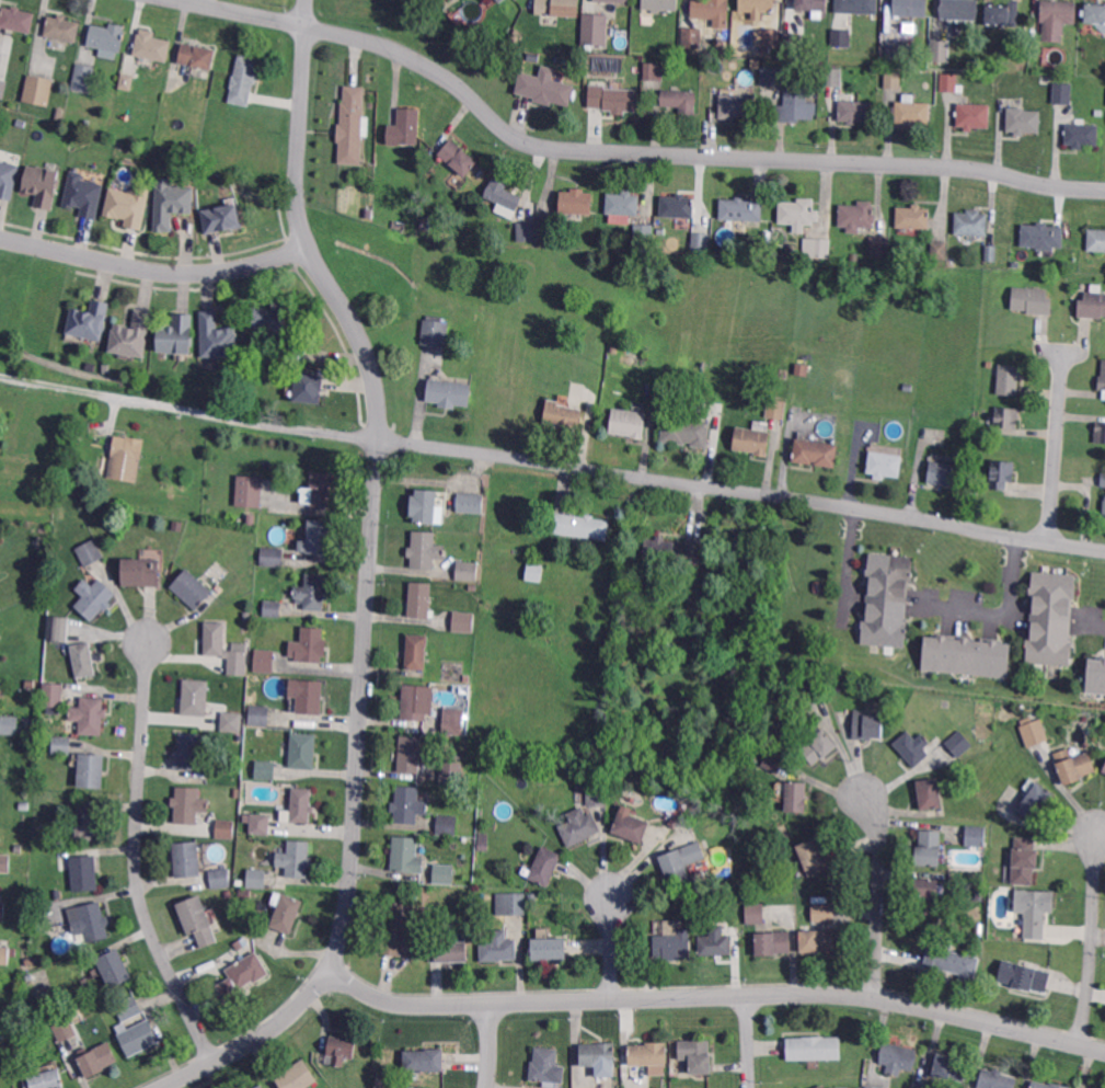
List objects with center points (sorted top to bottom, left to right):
building: (499, 1)
building: (611, 1)
building: (659, 4)
building: (813, 4)
building: (758, 7)
building: (856, 7)
building: (911, 7)
building: (556, 9)
building: (959, 9)
building: (712, 11)
building: (1000, 12)
building: (1095, 12)
building: (18, 18)
building: (1058, 18)
building: (62, 27)
building: (596, 27)
building: (772, 36)
building: (106, 37)
building: (691, 37)
building: (840, 38)
building: (793, 42)
building: (152, 45)
building: (939, 49)
building: (895, 51)
building: (198, 55)
building: (655, 70)
building: (770, 77)
building: (833, 77)
building: (245, 78)
building: (894, 78)
building: (83, 79)
building: (1047, 79)
building: (126, 82)
building: (952, 82)
building: (545, 87)
building: (3, 88)
building: (36, 92)
building: (1063, 92)
building: (613, 98)
building: (681, 100)
building: (737, 105)
building: (795, 105)
building: (855, 111)
building: (1100, 111)
building: (58, 114)
building: (911, 114)
building: (975, 115)
building: (1024, 119)
building: (21, 123)
building: (353, 125)
building: (405, 126)
building: (1083, 134)
building: (184, 145)
building: (192, 146)
road: (628, 151)
building: (459, 157)
building: (8, 180)
building: (42, 185)
building: (84, 195)
building: (504, 196)
building: (577, 201)
building: (624, 202)
building: (172, 205)
building: (129, 206)
building: (677, 207)
building: (743, 209)
building: (369, 211)
building: (799, 211)
building: (857, 215)
building: (914, 216)
building: (222, 220)
building: (972, 221)
building: (402, 225)
building: (549, 229)
building: (527, 231)
building: (1044, 234)
building: (643, 236)
building: (1096, 239)
building: (700, 242)
building: (880, 245)
building: (818, 247)
building: (940, 249)
building: (993, 252)
road: (152, 265)
building: (1032, 300)
building: (1092, 306)
building: (272, 318)
building: (89, 322)
building: (436, 332)
building: (131, 336)
building: (175, 336)
building: (218, 337)
building: (298, 351)
building: (91, 368)
building: (106, 369)
building: (783, 375)
building: (1102, 378)
building: (1009, 379)
building: (307, 386)
building: (449, 392)
building: (775, 410)
building: (563, 414)
building: (1006, 417)
building: (630, 422)
building: (686, 432)
building: (1100, 433)
building: (753, 439)
road: (1055, 442)
building: (817, 451)
building: (126, 459)
road: (552, 462)
building: (885, 463)
building: (945, 470)
building: (1001, 474)
road: (376, 477)
building: (1102, 479)
building: (325, 488)
building: (74, 491)
building: (249, 491)
building: (470, 503)
building: (427, 506)
building: (1104, 509)
building: (251, 520)
building: (582, 525)
building: (318, 537)
building: (41, 542)
building: (426, 548)
building: (672, 549)
building: (90, 553)
building: (273, 556)
road: (848, 559)
building: (468, 569)
building: (536, 571)
building: (141, 573)
building: (193, 587)
building: (818, 587)
building: (472, 588)
building: (313, 591)
building: (94, 596)
building: (419, 600)
building: (886, 600)
building: (0, 607)
building: (273, 607)
road: (1010, 614)
building: (1051, 619)
building: (462, 622)
road: (1102, 622)
building: (652, 626)
building: (58, 629)
building: (309, 645)
building: (222, 649)
building: (417, 651)
building: (967, 657)
building: (84, 658)
building: (265, 658)
building: (1096, 677)
building: (30, 684)
building: (838, 686)
building: (51, 695)
building: (196, 696)
building: (307, 696)
building: (809, 696)
building: (416, 700)
building: (261, 713)
building: (90, 714)
building: (452, 721)
building: (231, 722)
building: (10, 723)
building: (867, 724)
building: (1033, 729)
building: (959, 742)
building: (61, 745)
building: (820, 746)
building: (913, 746)
building: (304, 749)
building: (188, 751)
building: (411, 753)
building: (774, 759)
building: (1077, 766)
building: (1104, 767)
building: (266, 768)
building: (92, 769)
building: (450, 774)
building: (541, 780)
building: (930, 793)
building: (597, 794)
building: (797, 794)
building: (1036, 801)
building: (188, 803)
building: (302, 803)
building: (410, 803)
building: (24, 805)
building: (88, 822)
building: (261, 822)
building: (448, 823)
building: (579, 825)
building: (632, 826)
building: (225, 829)
building: (977, 835)
building: (483, 841)
building: (929, 848)
building: (405, 852)
building: (815, 856)
building: (297, 857)
road: (137, 859)
building: (186, 859)
building: (1025, 859)
building: (5, 861)
building: (681, 861)
building: (546, 864)
building: (84, 872)
building: (444, 874)
building: (220, 877)
building: (257, 877)
building: (58, 893)
road: (879, 894)
building: (928, 894)
building: (532, 897)
building: (679, 897)
building: (510, 904)
building: (2, 909)
building: (1036, 909)
building: (288, 912)
building: (756, 912)
building: (825, 912)
building: (196, 920)
building: (89, 921)
building: (396, 927)
road: (1093, 938)
building: (819, 939)
building: (774, 941)
building: (674, 943)
building: (715, 943)
building: (498, 946)
building: (551, 947)
road: (612, 948)
building: (449, 949)
building: (7, 954)
building: (952, 960)
building: (115, 966)
building: (244, 973)
building: (1025, 975)
building: (39, 992)
road: (714, 996)
building: (128, 1009)
building: (79, 1016)
building: (65, 1030)
building: (137, 1037)
road: (254, 1040)
road: (749, 1041)
road: (491, 1045)
building: (815, 1046)
building: (342, 1049)
building: (649, 1052)
building: (598, 1053)
building: (898, 1056)
building: (700, 1057)
building: (97, 1058)
building: (425, 1058)
building: (545, 1064)
building: (10, 1065)
building: (951, 1066)
building: (298, 1075)
building: (45, 1077)
building: (998, 1078)
building: (385, 1084)
building: (923, 1084)
building: (1049, 1085)
building: (261, 1086)
building: (820, 1086)
building: (870, 1087)
building: (1084, 1087)
building: (1097, 1087)

